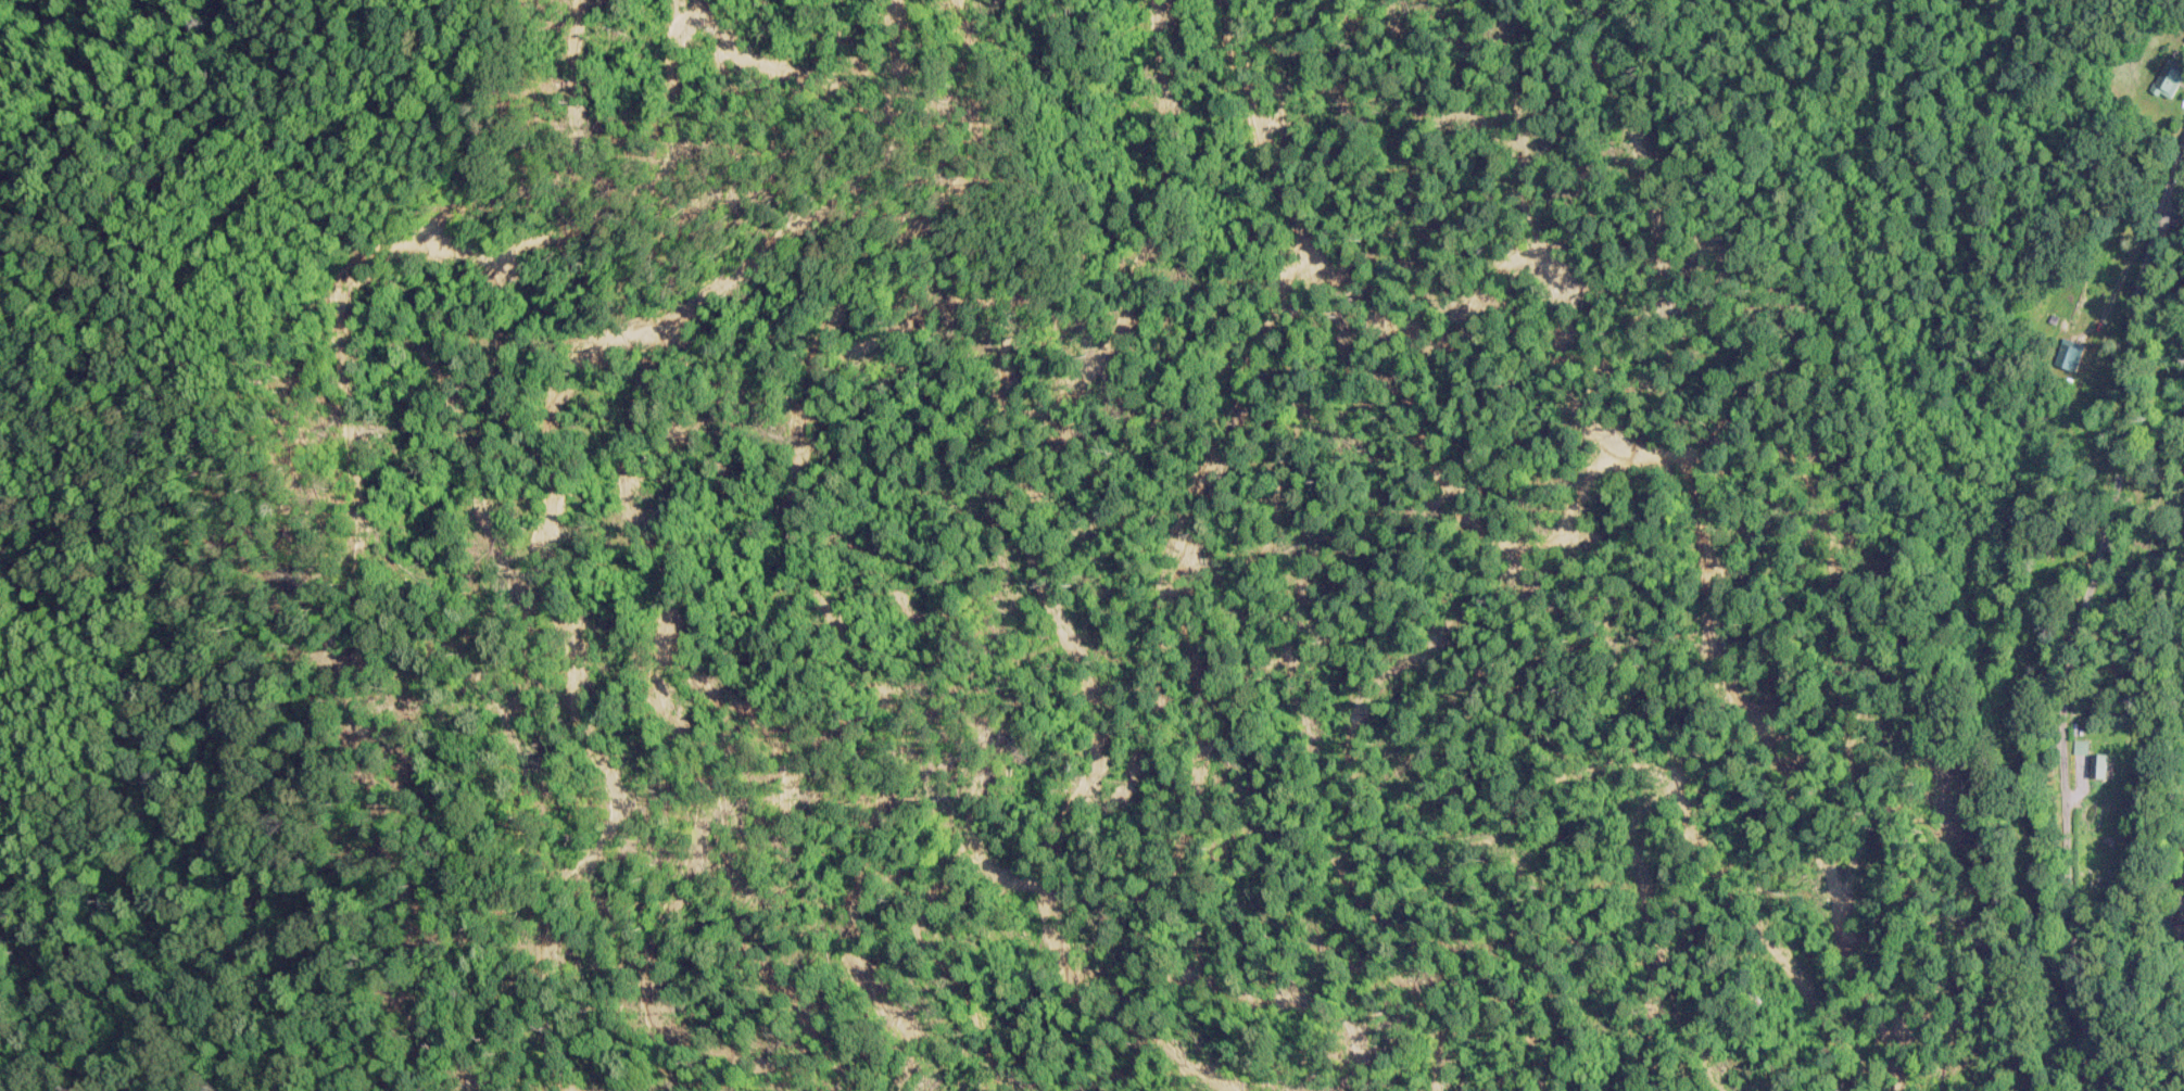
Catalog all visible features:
road: (2074, 596)

